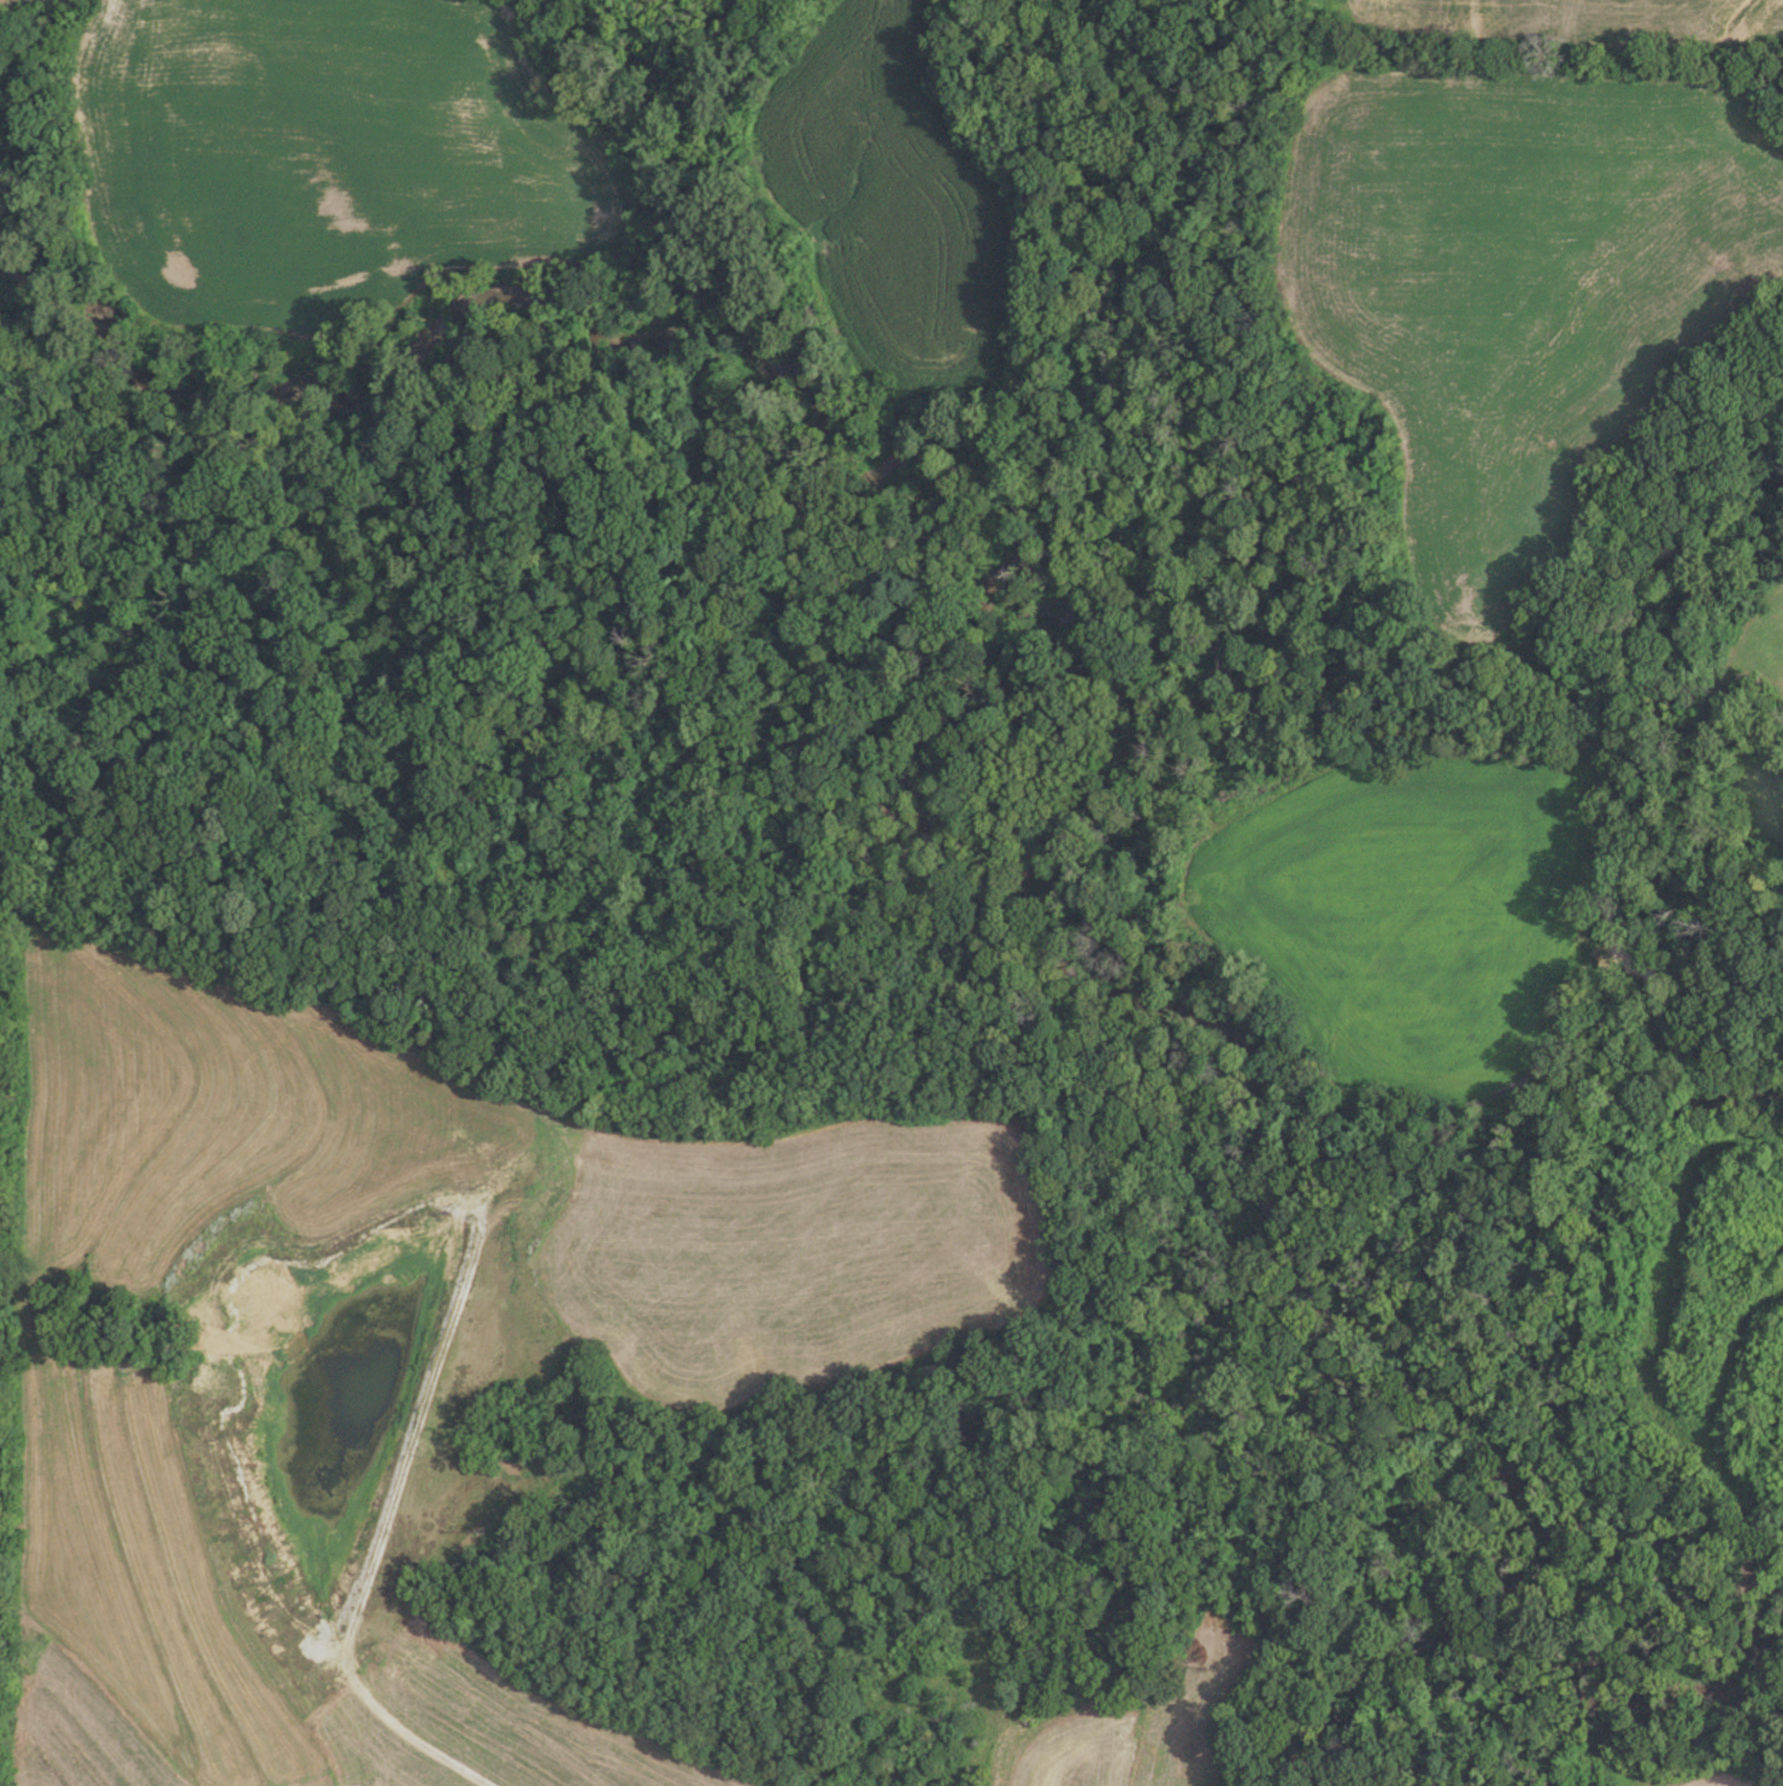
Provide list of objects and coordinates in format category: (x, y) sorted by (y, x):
building: (1072, 1770)

